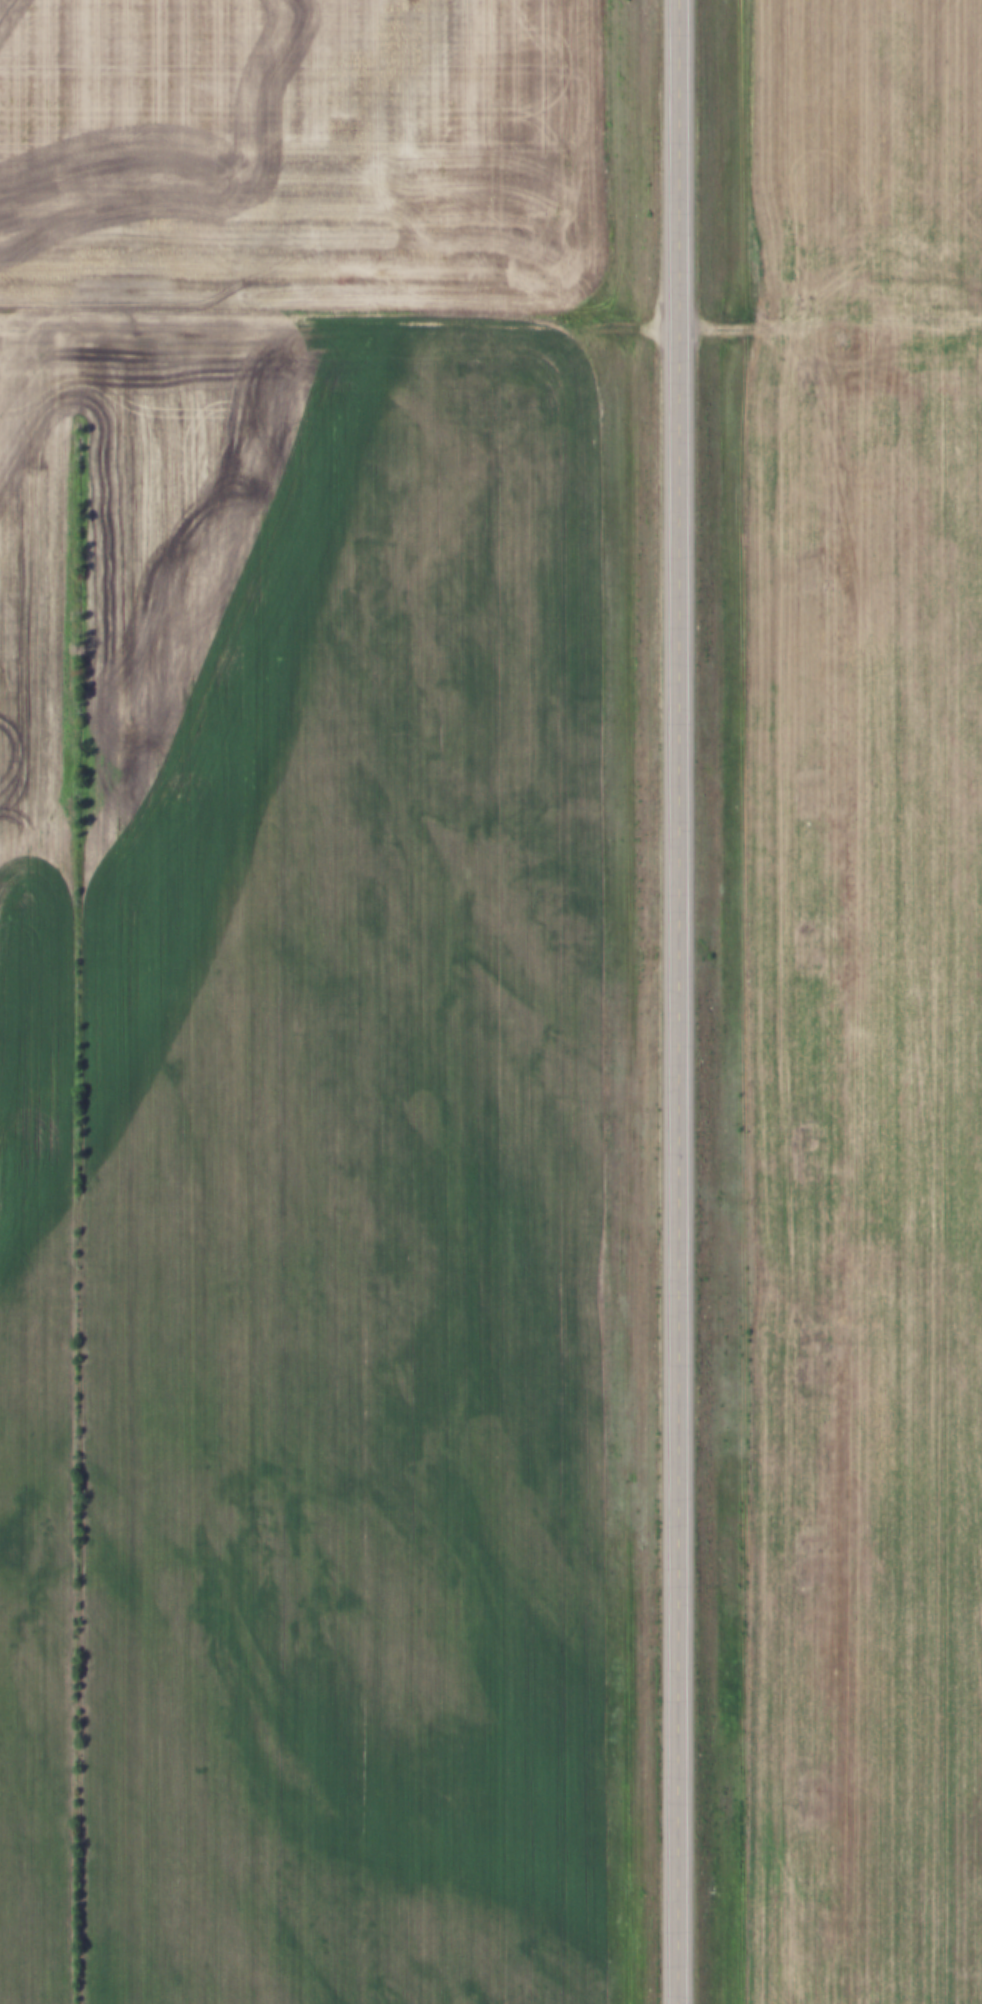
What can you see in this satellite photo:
road: (491, 324)
road: (675, 1001)

